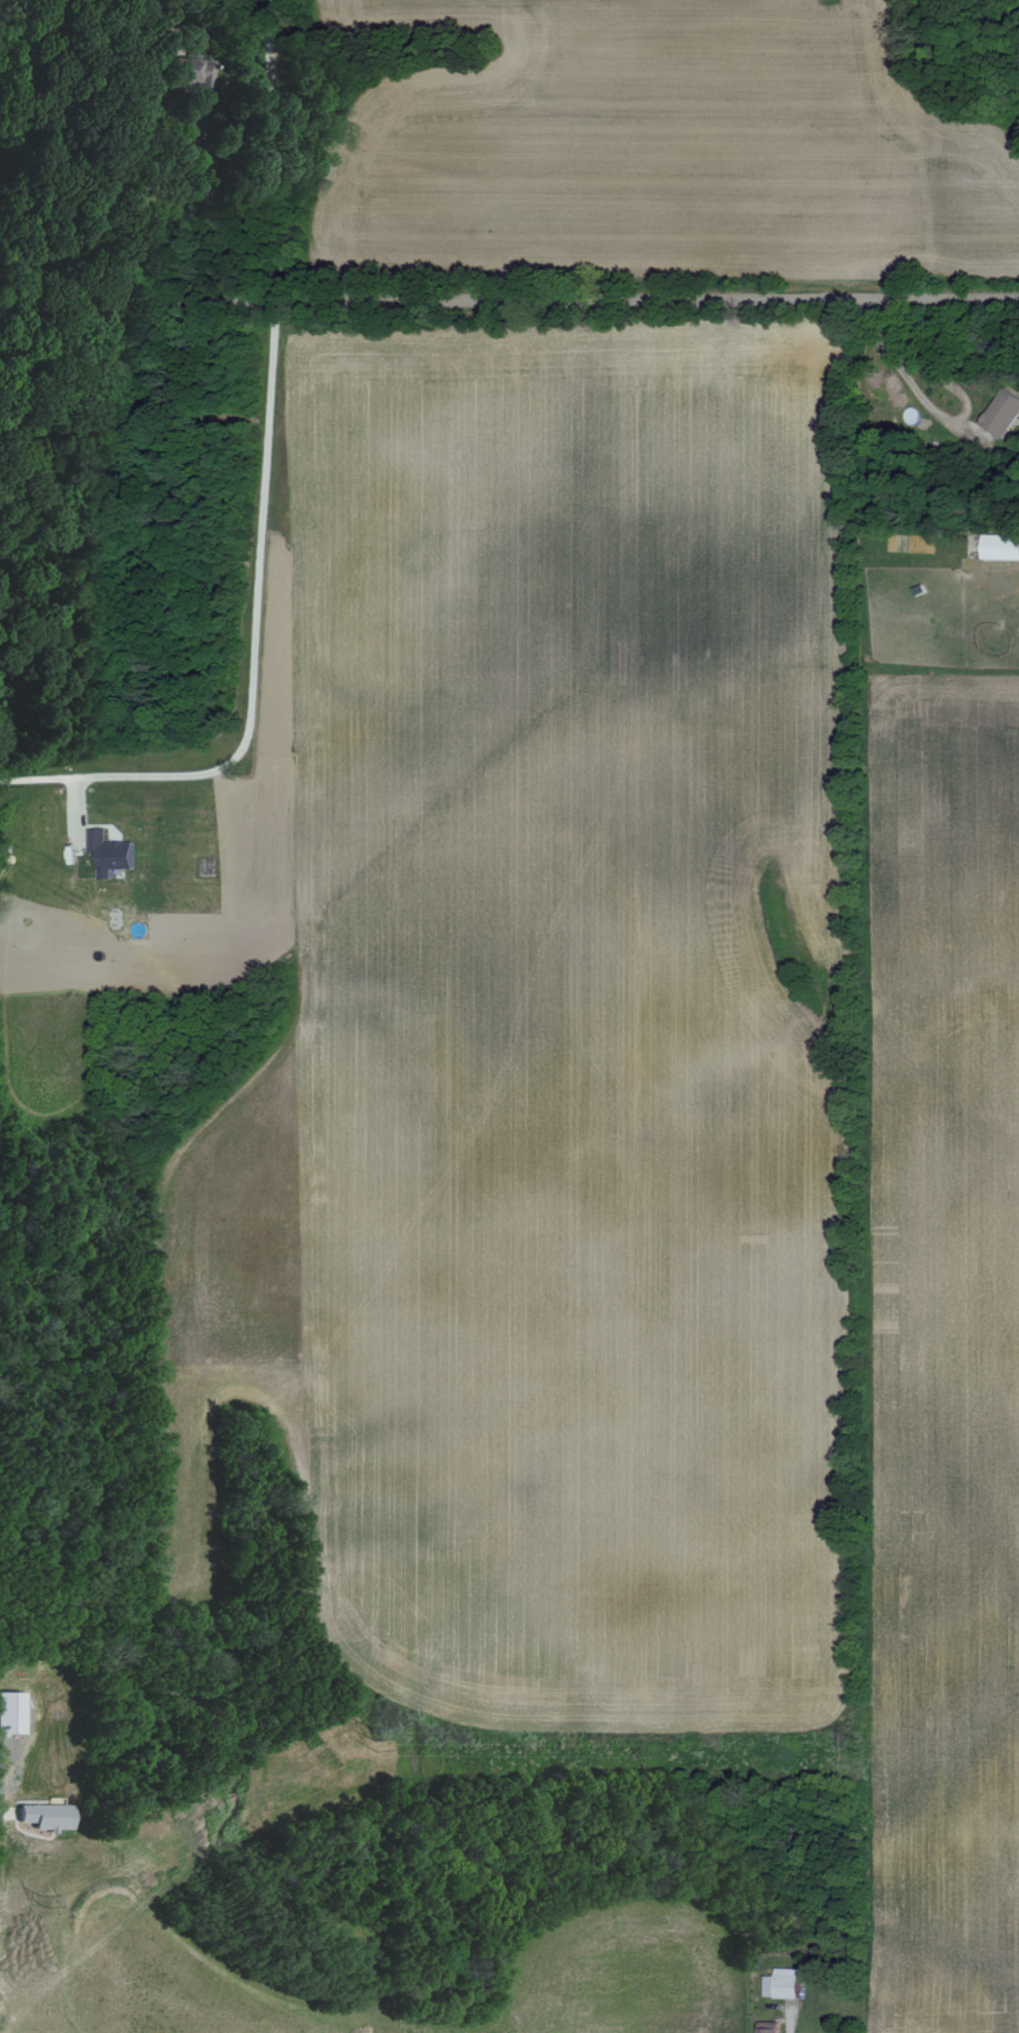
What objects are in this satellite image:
building: (189, 71)
road: (234, 144)
road: (964, 158)
road: (509, 300)
road: (932, 410)
building: (999, 414)
building: (999, 548)
road: (252, 649)
building: (107, 852)
building: (10, 1713)
power tower: (370, 1740)
power tower: (854, 1747)
building: (45, 1816)
power tower: (41, 1903)
building: (780, 1984)
building: (766, 2027)

